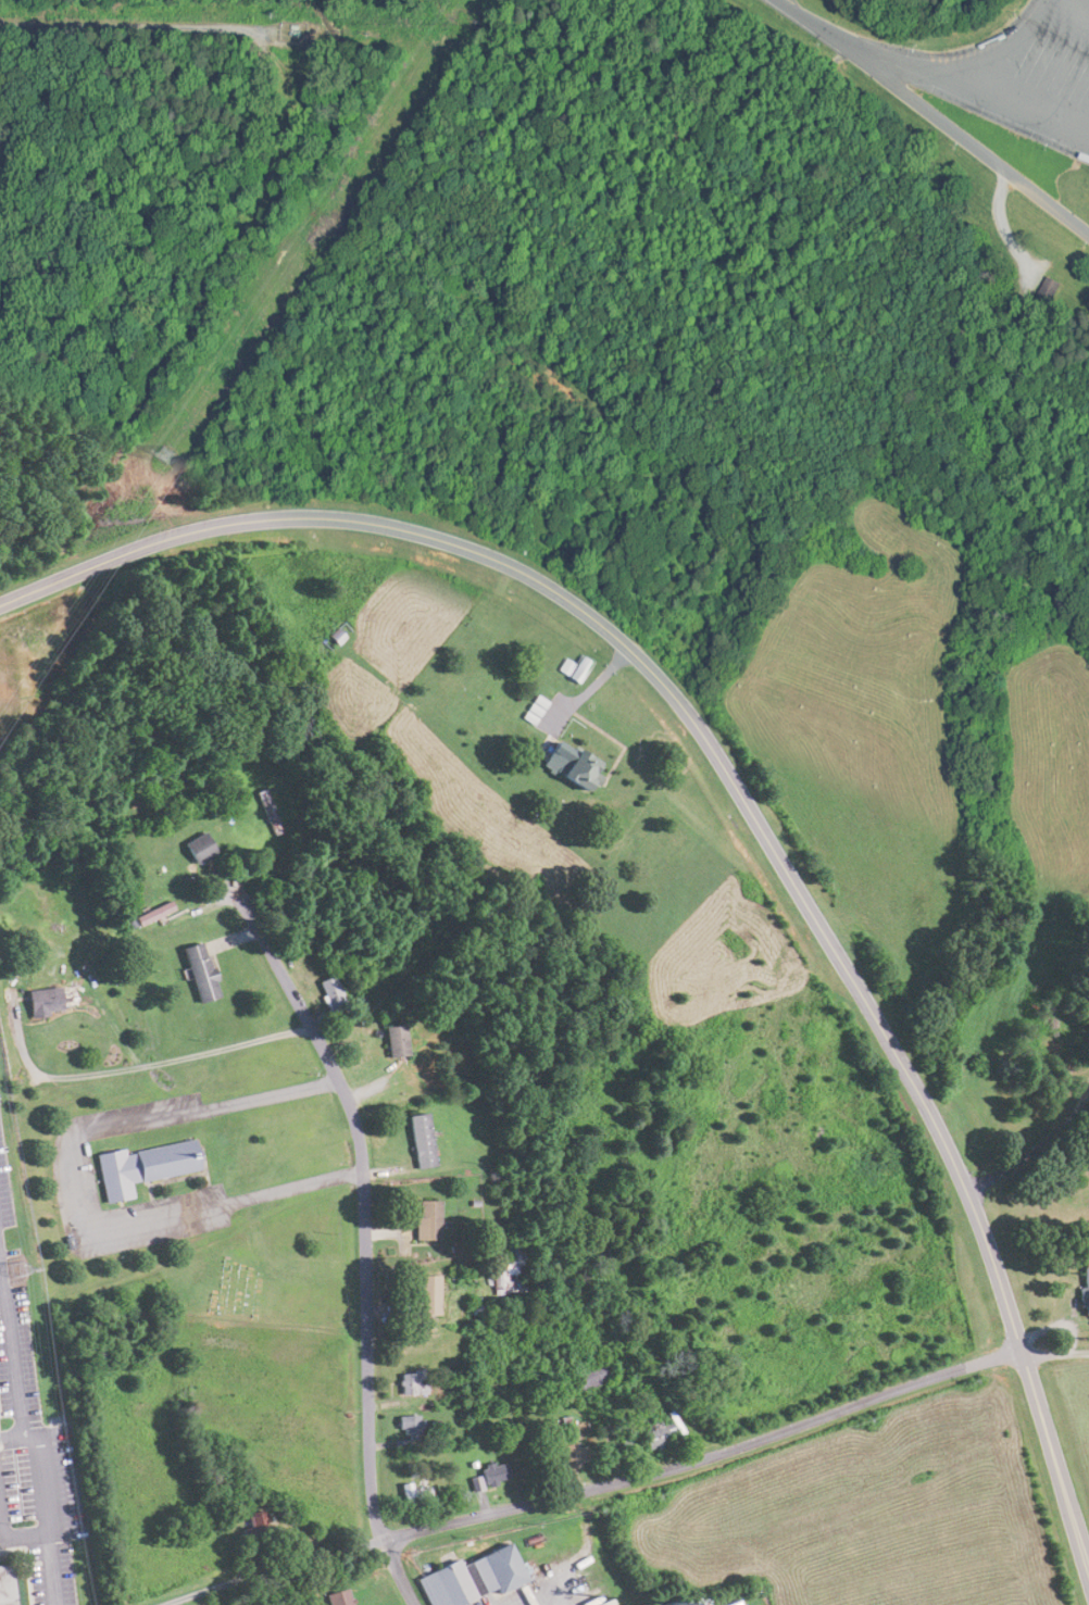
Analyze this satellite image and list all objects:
road: (1077, 9)
road: (813, 22)
parking lot: (1015, 74)
road: (963, 76)
road: (1014, 102)
road: (966, 140)
building: (1048, 289)
building: (574, 668)
building: (569, 765)
road: (748, 793)
building: (197, 848)
building: (14, 850)
building: (150, 914)
building: (198, 973)
building: (41, 1002)
building: (393, 1042)
building: (421, 1141)
road: (1027, 1155)
building: (141, 1167)
road: (77, 1189)
building: (426, 1219)
road: (366, 1241)
building: (513, 1271)
building: (1085, 1283)
building: (425, 1294)
building: (591, 1376)
building: (411, 1382)
building: (410, 1425)
building: (655, 1435)
building: (568, 1454)
building: (493, 1472)
road: (627, 1477)
building: (413, 1491)
building: (470, 1577)
building: (7, 1585)
building: (336, 1597)

